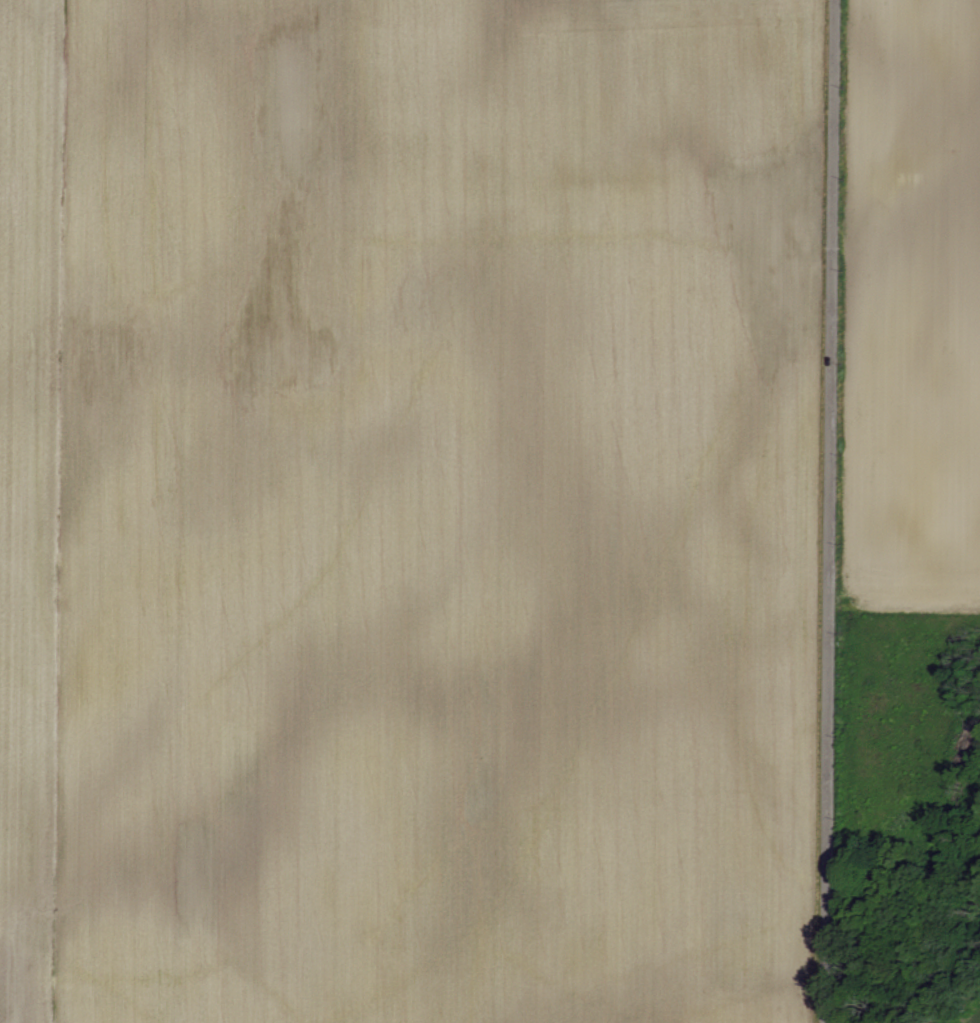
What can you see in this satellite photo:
road: (829, 511)

